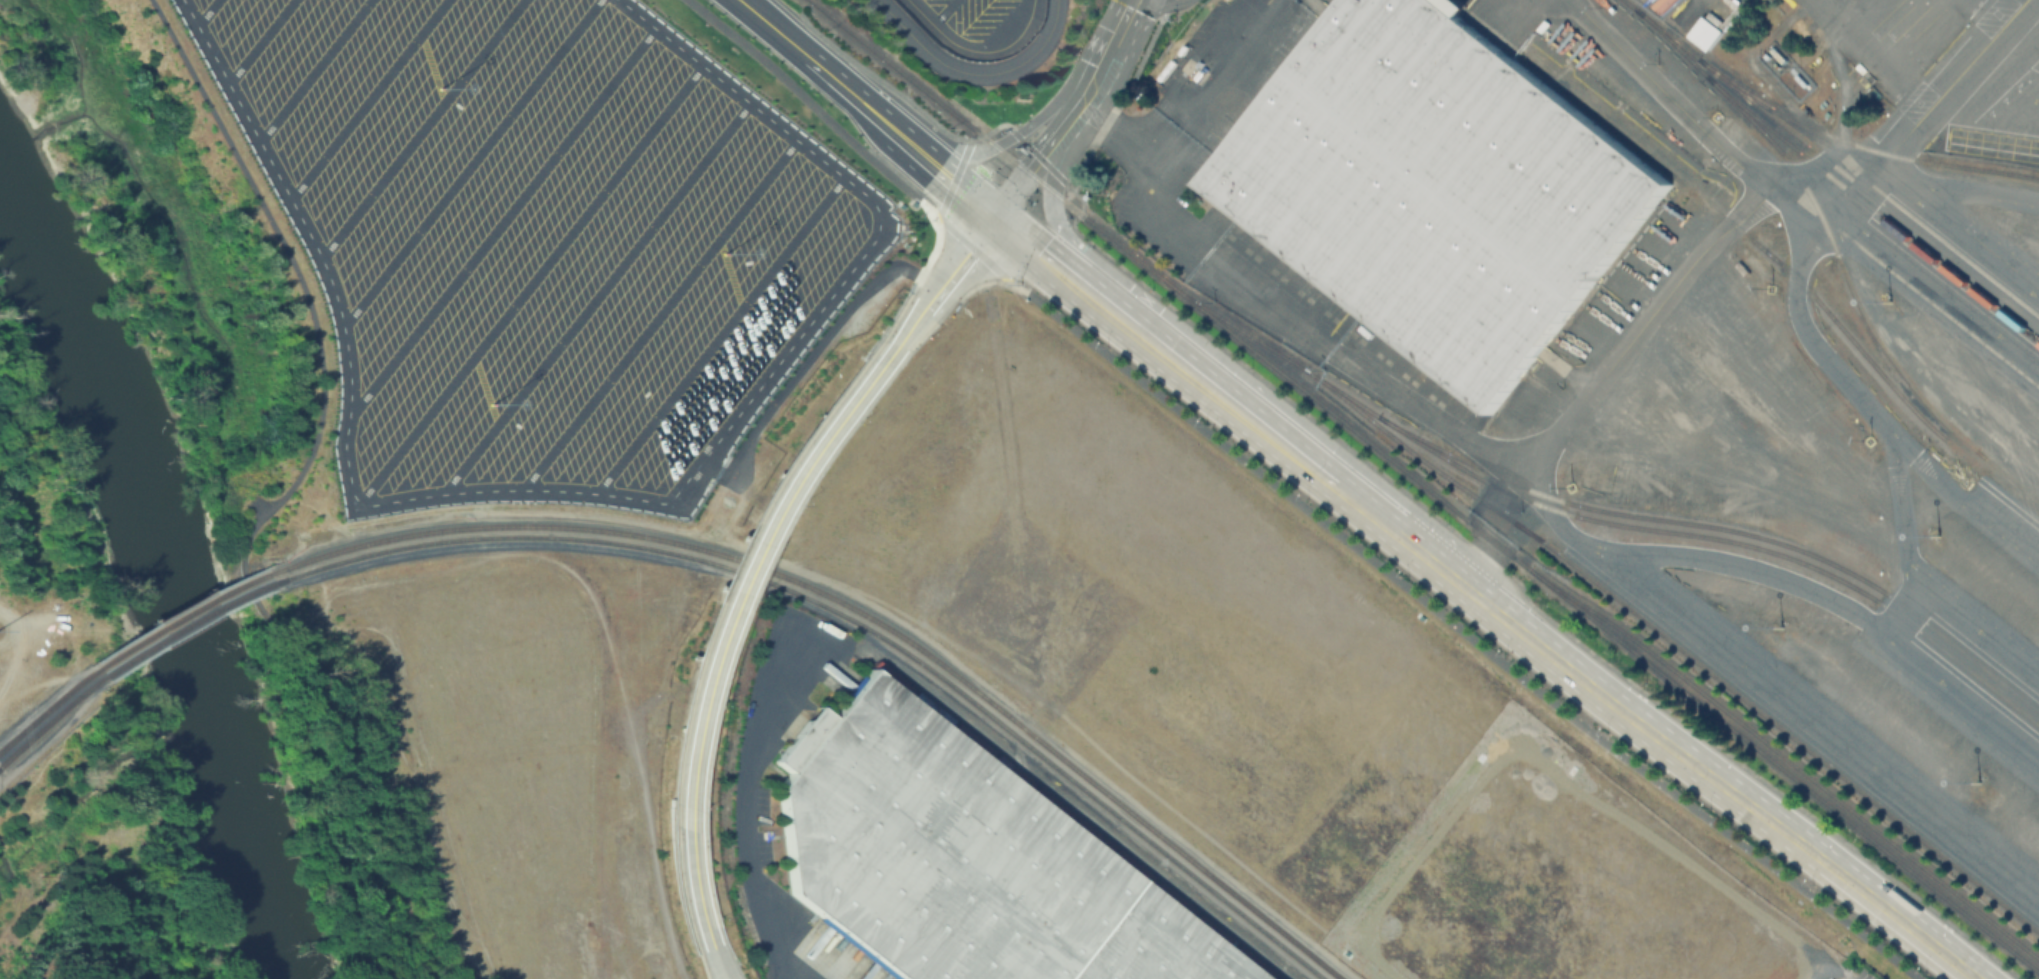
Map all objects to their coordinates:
road: (943, 11)
road: (1997, 11)
road: (205, 12)
road: (1832, 18)
road: (778, 31)
building: (1708, 36)
road: (260, 41)
road: (1117, 45)
road: (976, 50)
road: (1867, 56)
road: (314, 70)
road: (975, 72)
road: (842, 83)
road: (1211, 89)
road: (367, 99)
road: (1051, 107)
road: (1077, 113)
road: (1691, 119)
road: (421, 128)
road: (896, 129)
railway: (1811, 132)
road: (972, 152)
road: (470, 163)
road: (1029, 176)
railway: (1833, 181)
road: (961, 184)
road: (1955, 187)
building: (1434, 189)
railway: (1869, 195)
road: (871, 200)
traffic signals: (999, 216)
road: (499, 222)
road: (1810, 240)
road: (964, 260)
railway: (1790, 274)
road: (530, 283)
road: (599, 297)
railway: (1856, 304)
road: (660, 314)
road: (913, 324)
road: (718, 334)
street lamp: (927, 336)
road: (1161, 348)
road: (809, 355)
road: (1227, 363)
road: (347, 415)
road: (1428, 417)
street lamp: (853, 423)
railway: (2008, 481)
railway: (1422, 487)
road: (287, 494)
road: (1294, 500)
street lamp: (794, 505)
railway: (1596, 509)
road: (1486, 522)
road: (1389, 527)
railway: (1722, 540)
road: (745, 567)
railway: (182, 615)
railway: (866, 616)
railway: (187, 622)
railway: (859, 628)
road: (1546, 647)
railway: (1677, 649)
street lamp: (715, 706)
railway: (41, 717)
railway: (43, 728)
railway: (1786, 761)
road: (36, 766)
street lamp: (703, 807)
railway: (1070, 818)
road: (1807, 848)
building: (958, 861)
road: (697, 889)
street lamp: (719, 917)
road: (721, 963)

